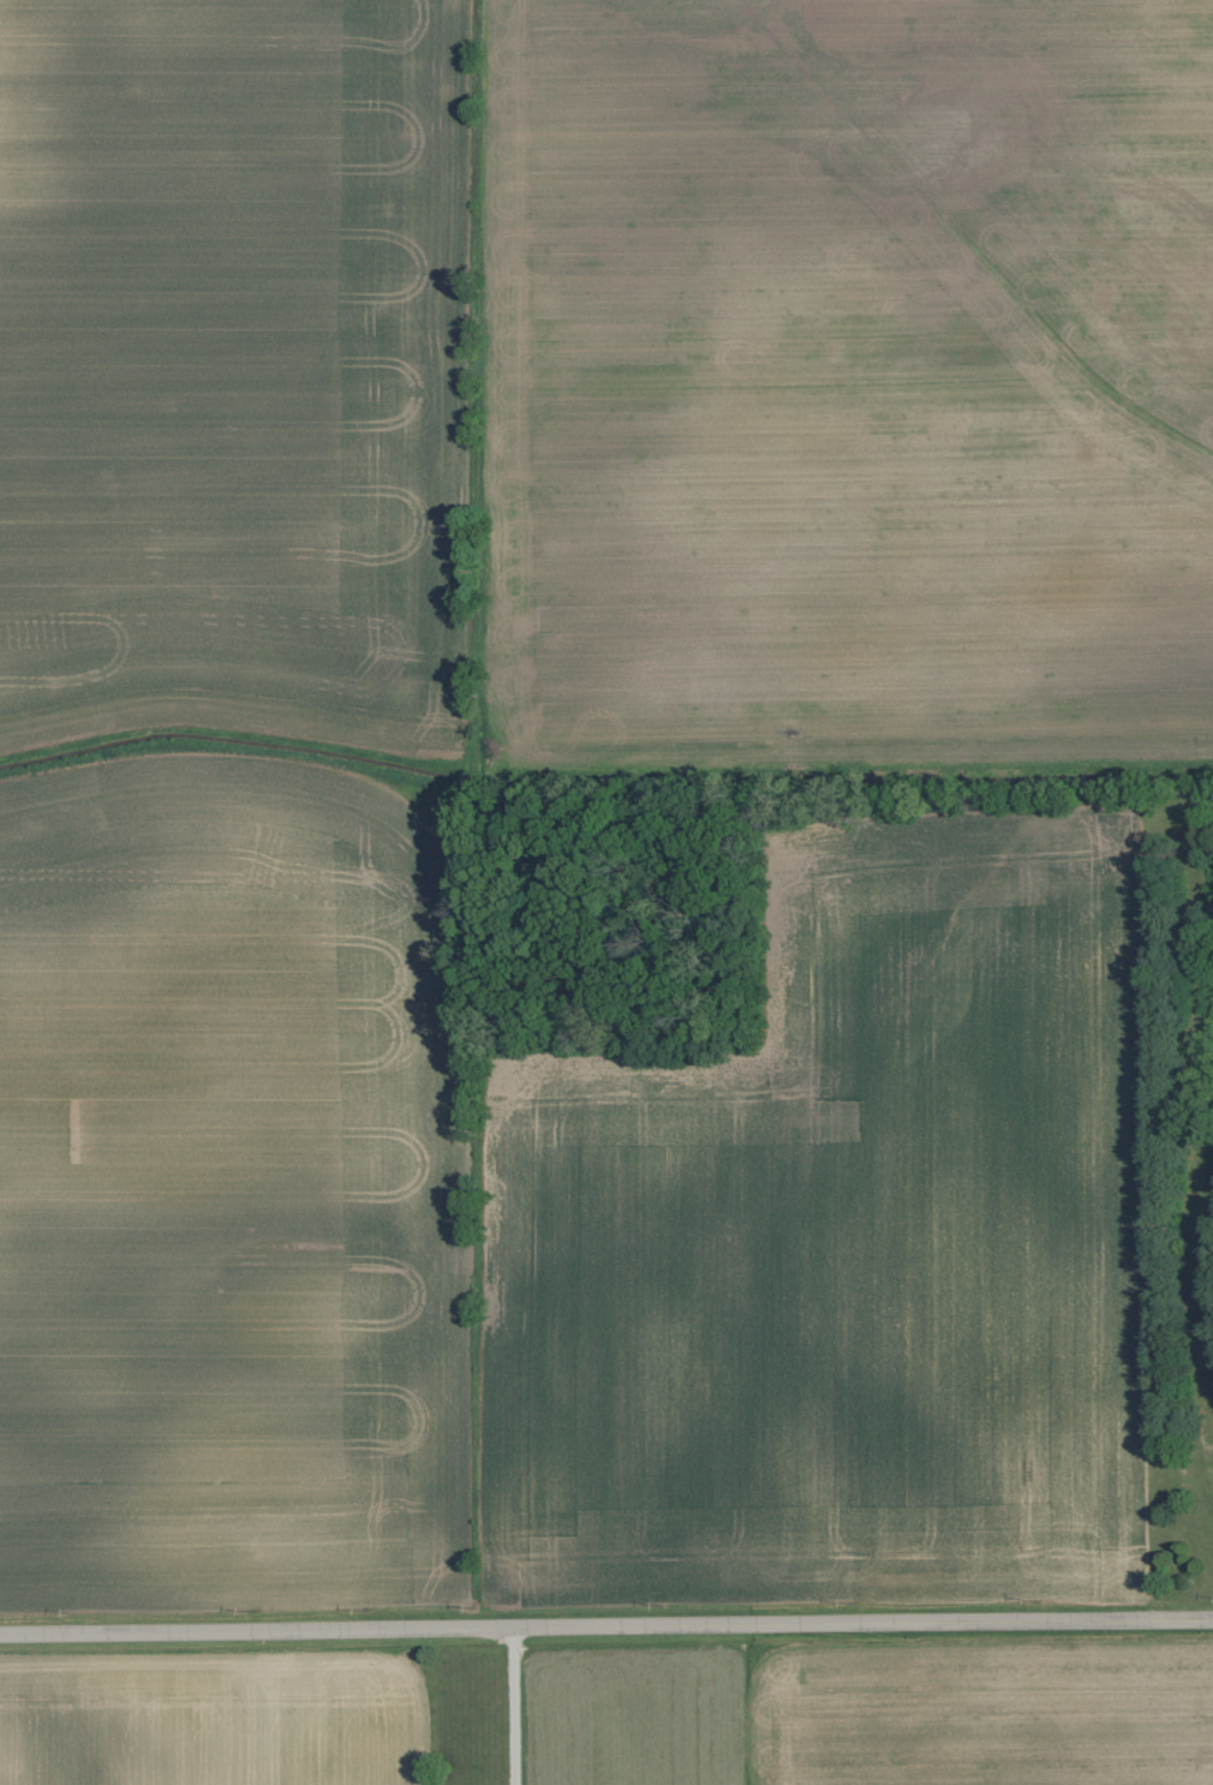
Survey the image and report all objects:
road: (605, 1624)
road: (514, 1706)

